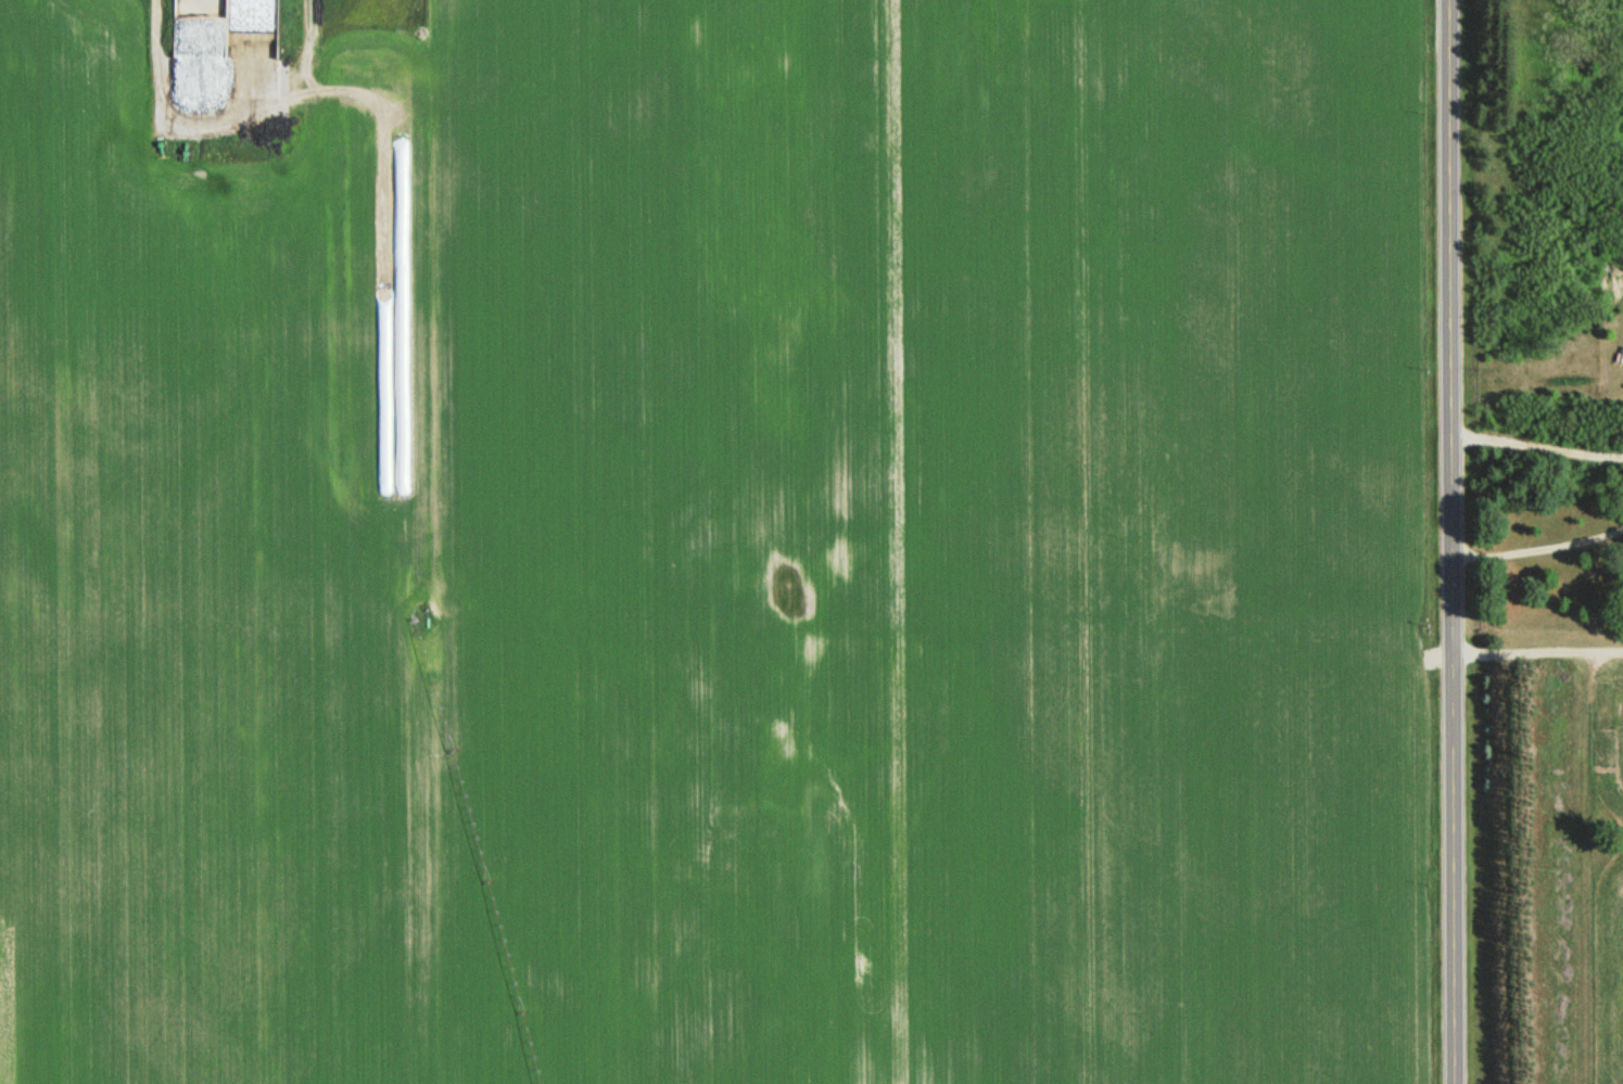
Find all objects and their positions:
road: (1537, 445)
road: (1451, 541)
road: (1538, 548)
road: (1537, 649)

